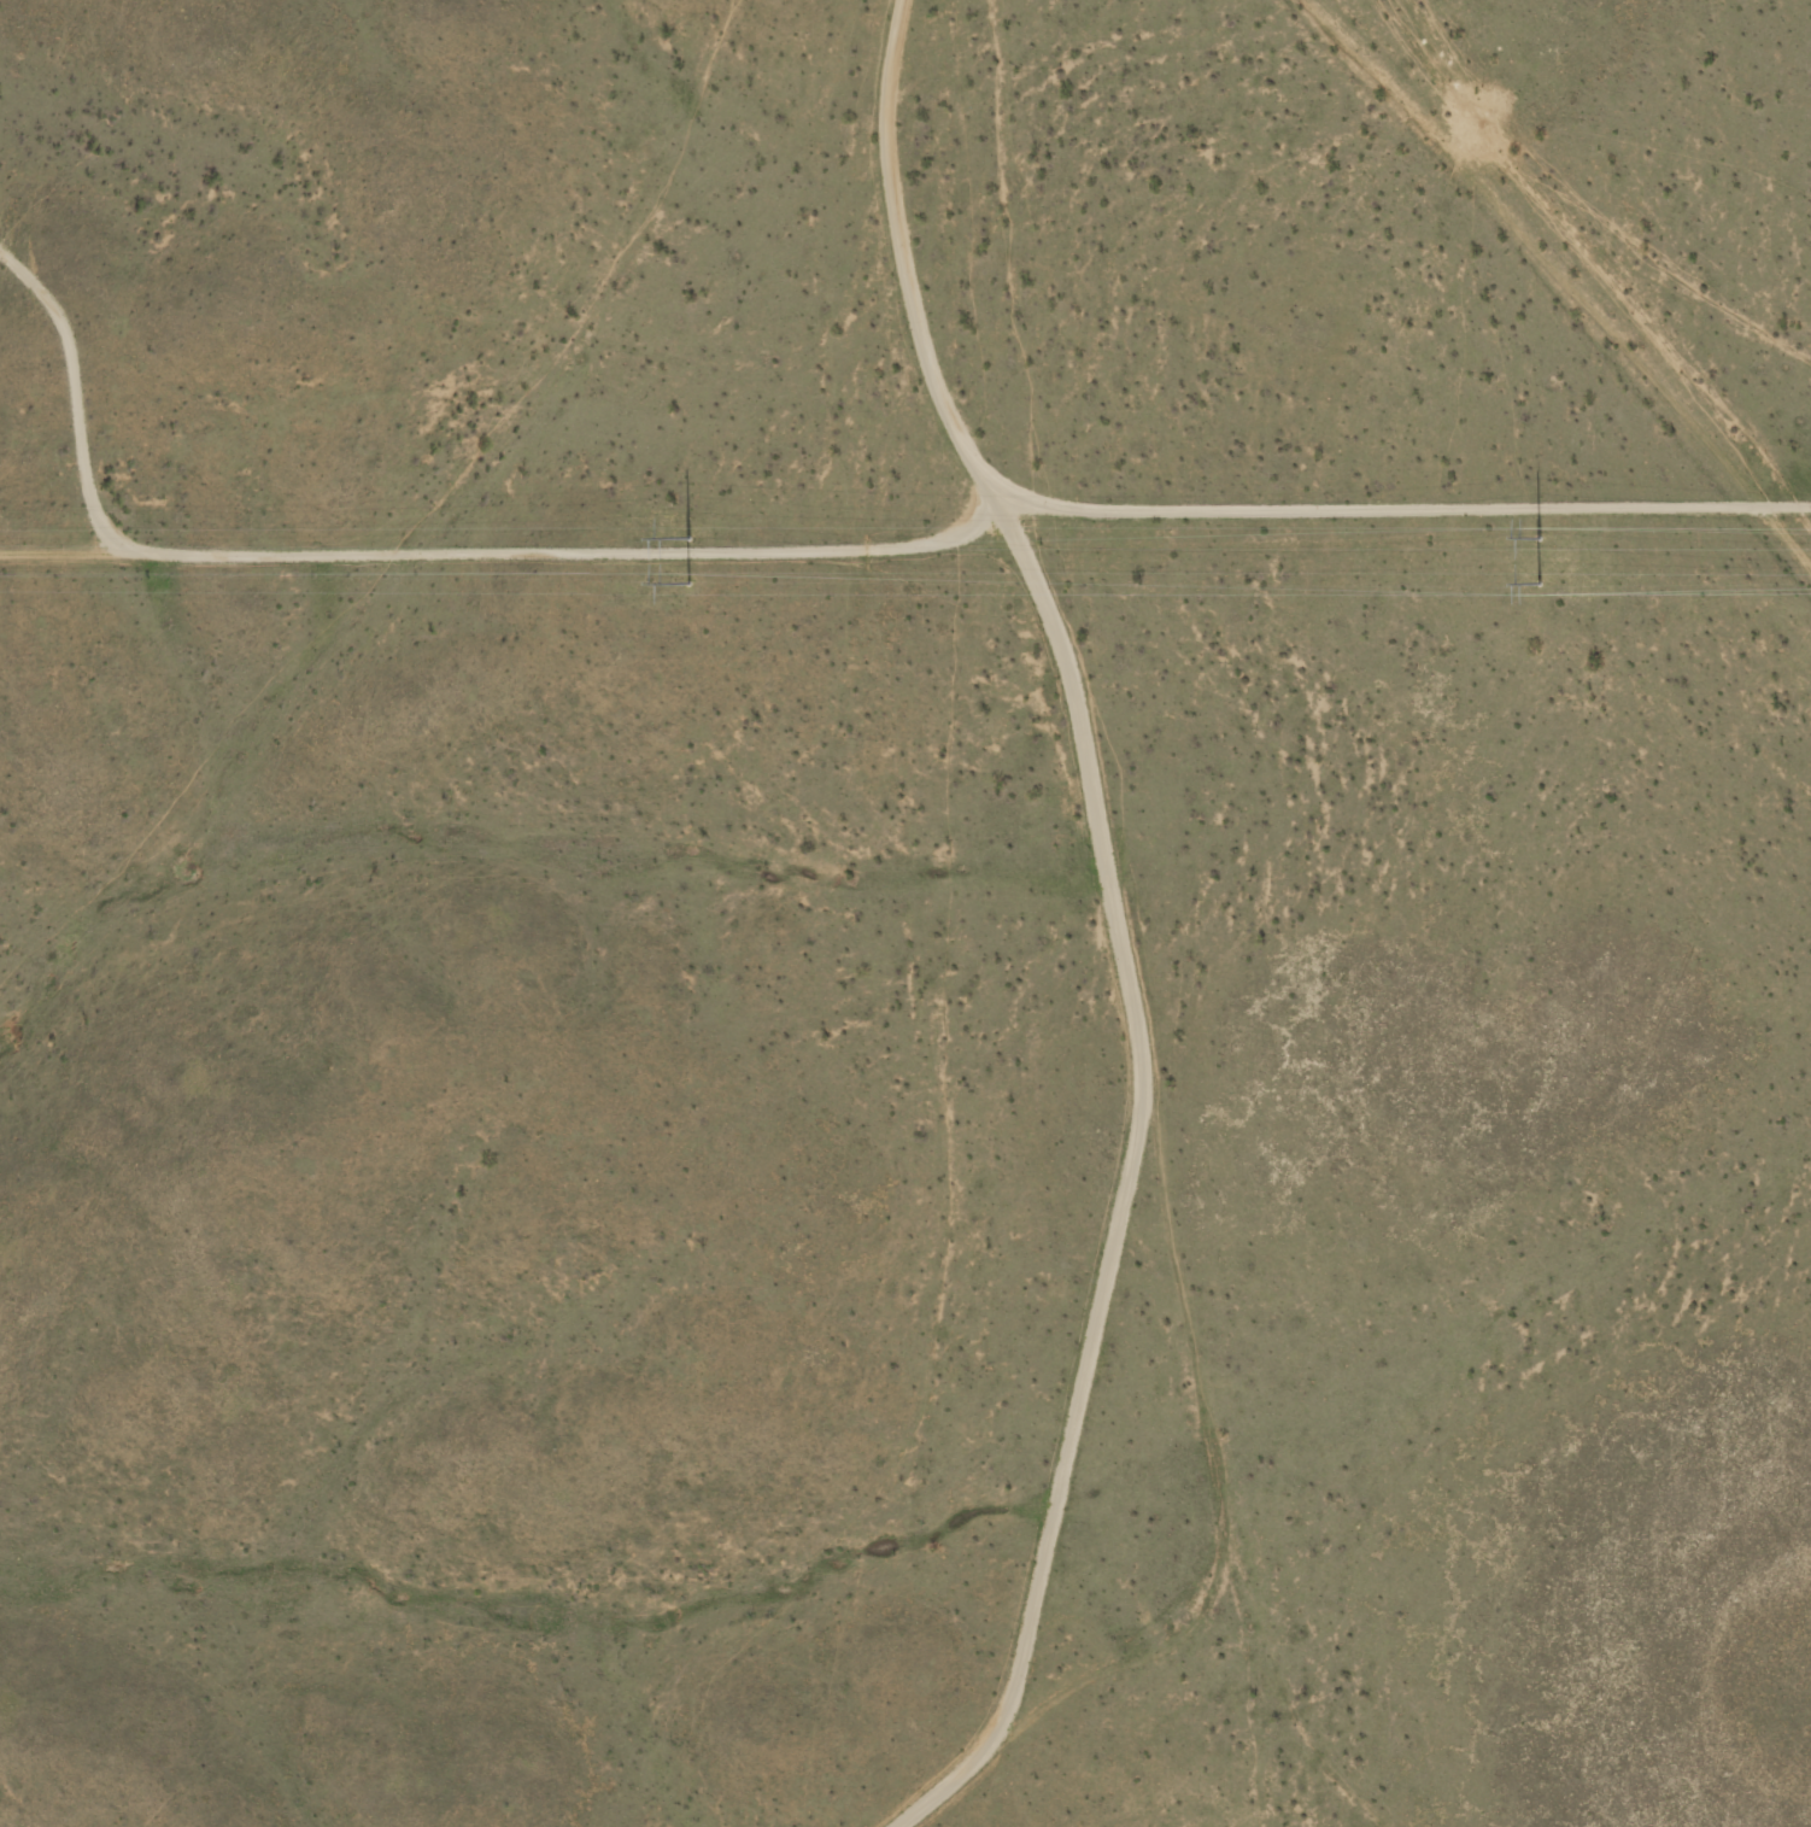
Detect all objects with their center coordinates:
road: (950, 298)
road: (1546, 300)
power tower: (1543, 564)
power tower: (693, 567)

